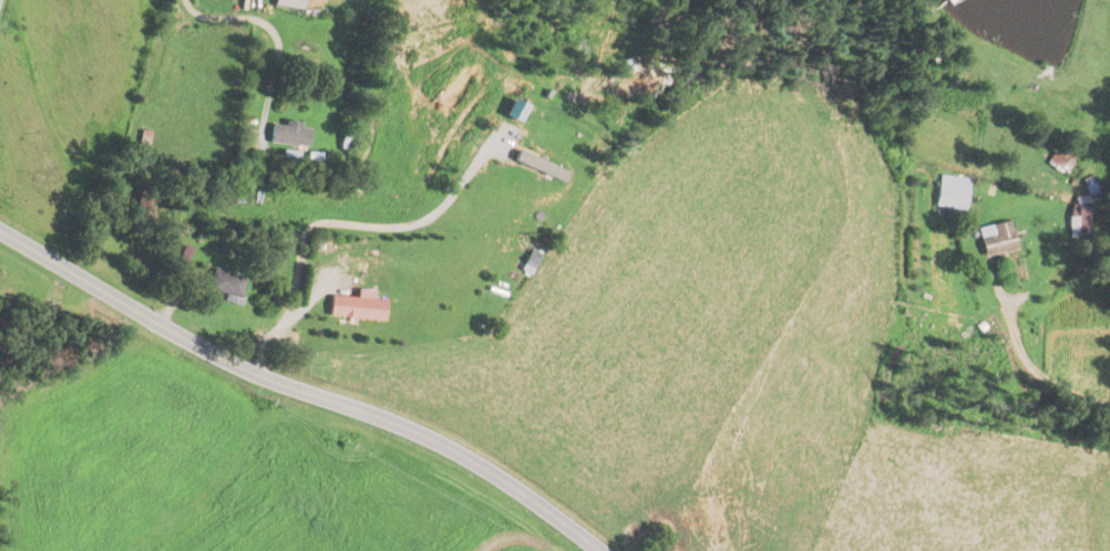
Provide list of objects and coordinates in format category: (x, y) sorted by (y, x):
road: (260, 39)
building: (289, 135)
building: (349, 142)
building: (289, 160)
building: (952, 194)
road: (338, 221)
building: (996, 240)
building: (534, 256)
building: (227, 287)
building: (358, 306)
road: (1042, 376)
road: (301, 388)

